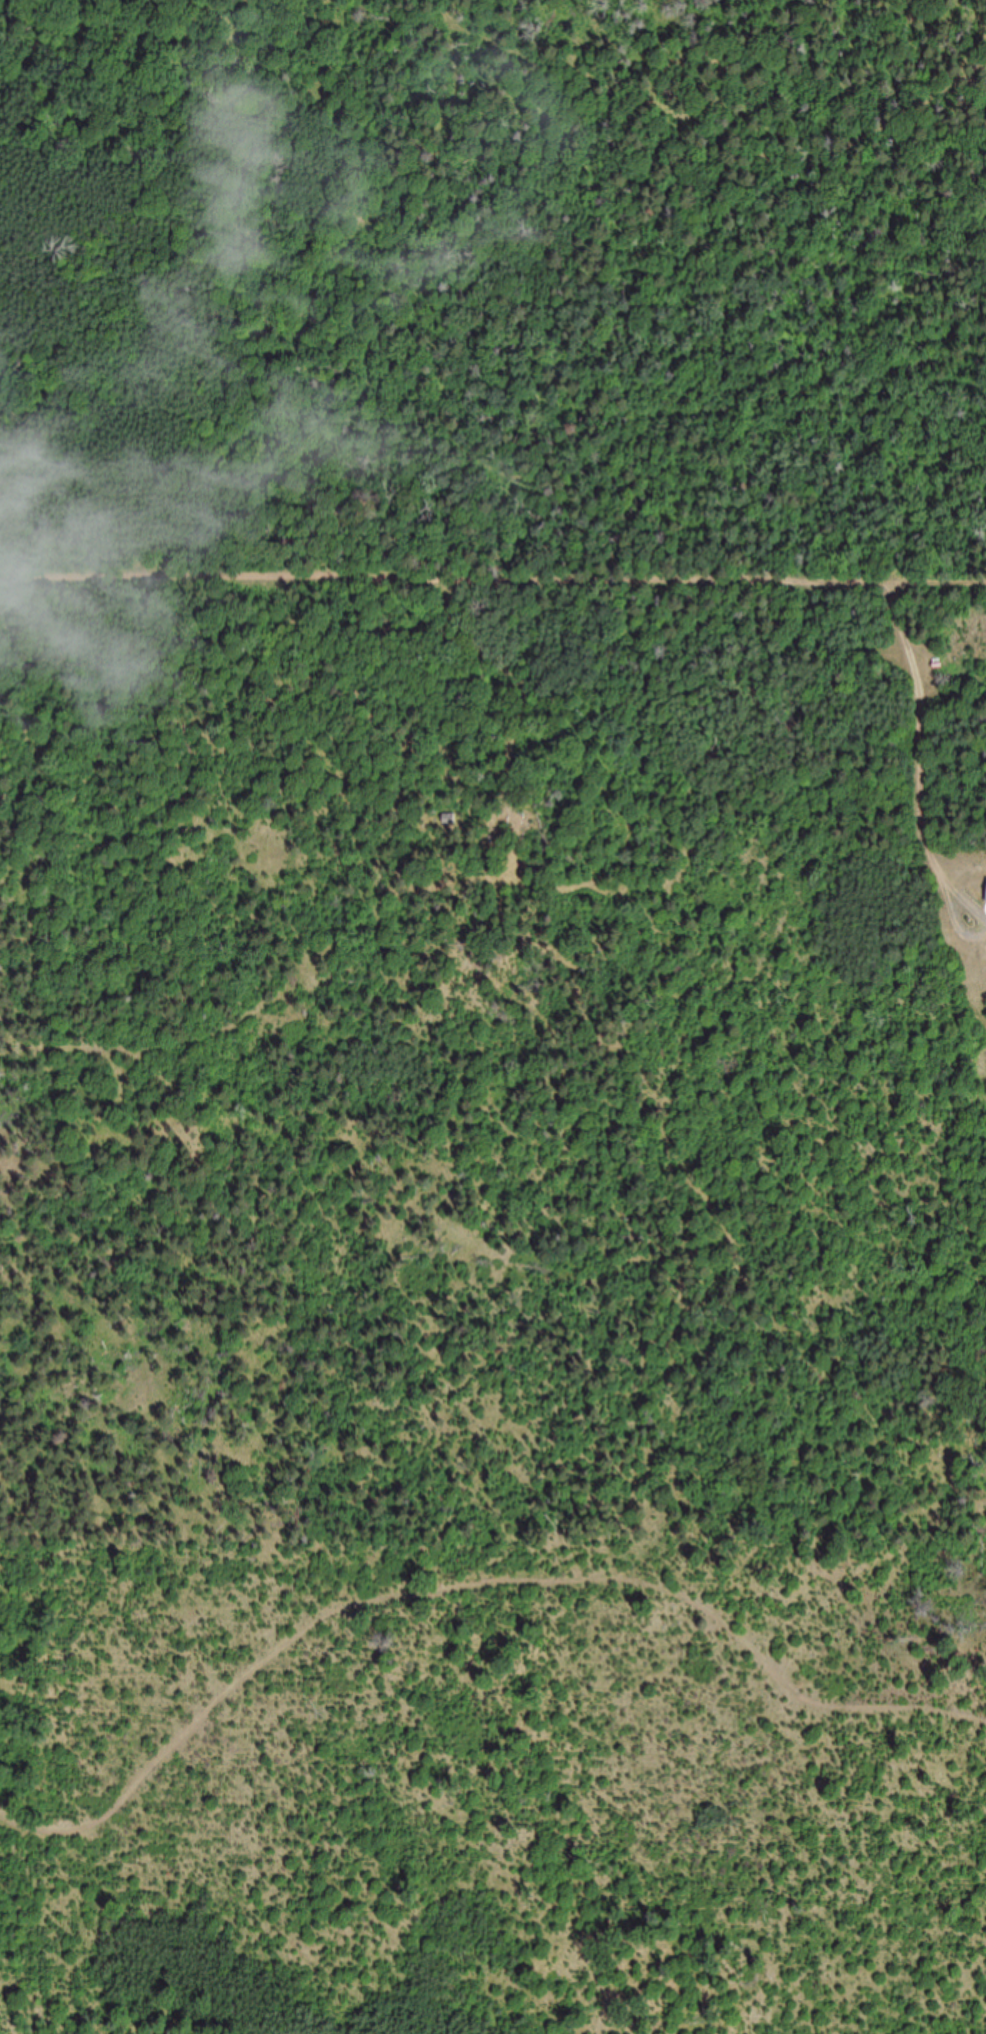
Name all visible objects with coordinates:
road: (493, 587)

